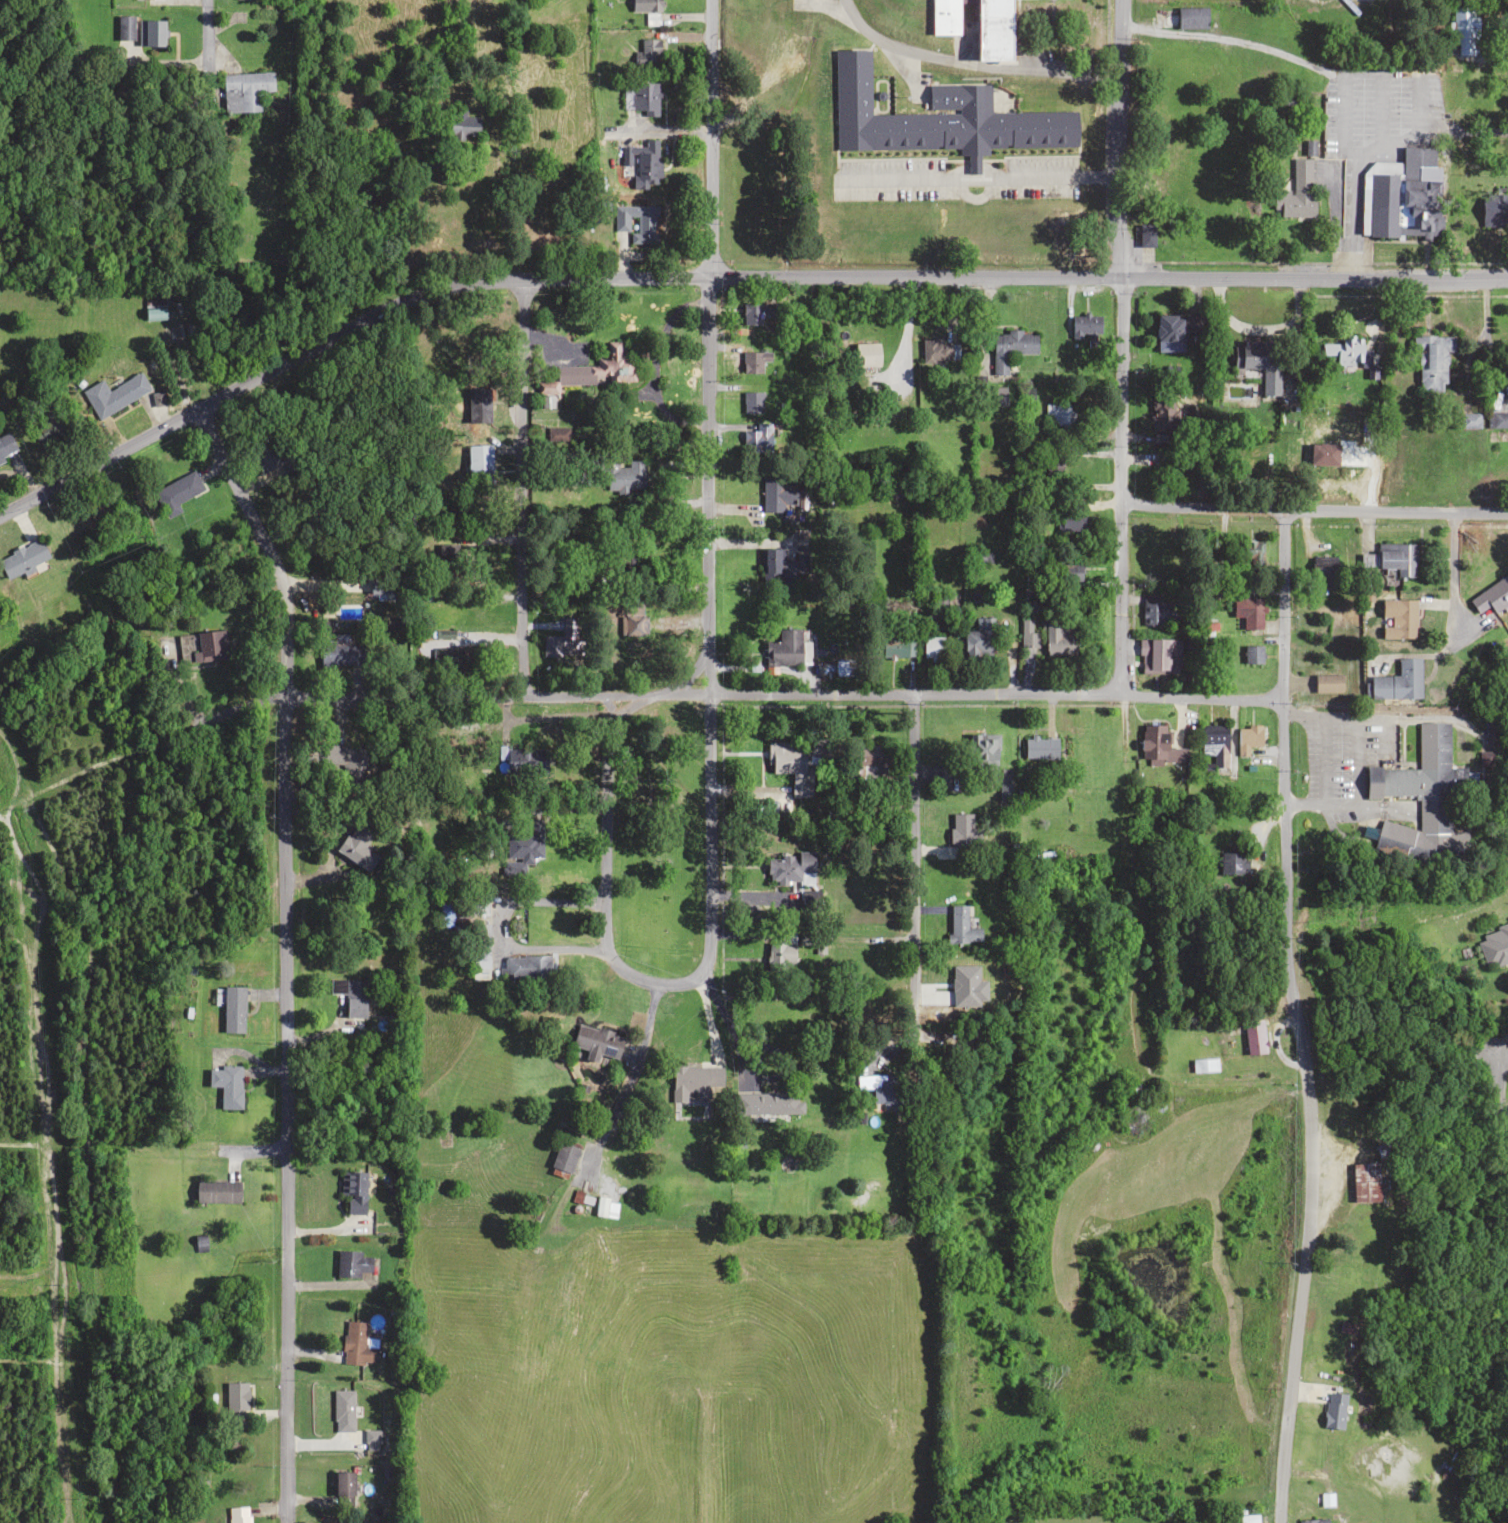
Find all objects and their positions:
building: (645, 5)
building: (944, 16)
building: (1191, 18)
road: (205, 19)
building: (124, 27)
building: (993, 28)
building: (1465, 30)
building: (149, 33)
building: (649, 51)
building: (243, 91)
building: (939, 118)
building: (462, 123)
road: (709, 138)
building: (648, 162)
building: (1297, 192)
building: (1404, 195)
building: (1493, 206)
building: (636, 223)
building: (1145, 235)
road: (726, 277)
building: (154, 313)
building: (754, 315)
building: (1085, 326)
building: (1169, 327)
building: (1011, 347)
road: (1120, 350)
building: (942, 351)
building: (1341, 351)
building: (866, 355)
building: (755, 361)
building: (1260, 362)
building: (1432, 362)
building: (593, 371)
building: (998, 393)
building: (112, 395)
building: (752, 402)
building: (1059, 415)
building: (1165, 415)
building: (1497, 420)
building: (1468, 421)
building: (46, 428)
building: (5, 448)
building: (1342, 453)
building: (261, 461)
building: (478, 465)
building: (1053, 467)
building: (625, 477)
building: (176, 493)
road: (516, 495)
building: (776, 495)
road: (1312, 519)
building: (1069, 520)
building: (1249, 555)
building: (21, 558)
building: (1396, 559)
building: (769, 567)
building: (796, 568)
building: (1326, 571)
building: (386, 584)
road: (1506, 596)
building: (1491, 597)
building: (443, 612)
building: (1156, 613)
building: (1249, 613)
building: (1398, 620)
road: (709, 621)
building: (1027, 634)
building: (1058, 640)
building: (978, 641)
building: (210, 645)
building: (560, 646)
building: (897, 647)
building: (788, 648)
building: (931, 649)
building: (340, 651)
building: (1252, 654)
building: (1159, 656)
building: (1398, 681)
road: (780, 700)
building: (1490, 731)
building: (1248, 738)
building: (1214, 743)
building: (1158, 745)
building: (1040, 747)
building: (981, 752)
building: (340, 755)
building: (525, 760)
building: (792, 765)
building: (1424, 783)
building: (964, 835)
building: (524, 843)
building: (356, 844)
building: (1231, 863)
road: (912, 869)
road: (118, 870)
road: (606, 886)
building: (444, 914)
building: (962, 931)
building: (1493, 946)
building: (781, 952)
road: (285, 957)
building: (525, 966)
building: (351, 995)
building: (233, 1009)
road: (1294, 1021)
building: (1255, 1037)
building: (596, 1042)
building: (1204, 1065)
building: (693, 1081)
building: (226, 1084)
building: (884, 1091)
road: (1494, 1098)
building: (770, 1102)
building: (564, 1157)
building: (1364, 1181)
building: (588, 1183)
road: (195, 1190)
building: (216, 1190)
building: (353, 1190)
building: (351, 1263)
building: (1351, 1273)
building: (356, 1344)
building: (235, 1399)
building: (1334, 1409)
building: (343, 1410)
building: (371, 1435)
building: (343, 1483)
building: (239, 1514)
building: (1311, 1521)

